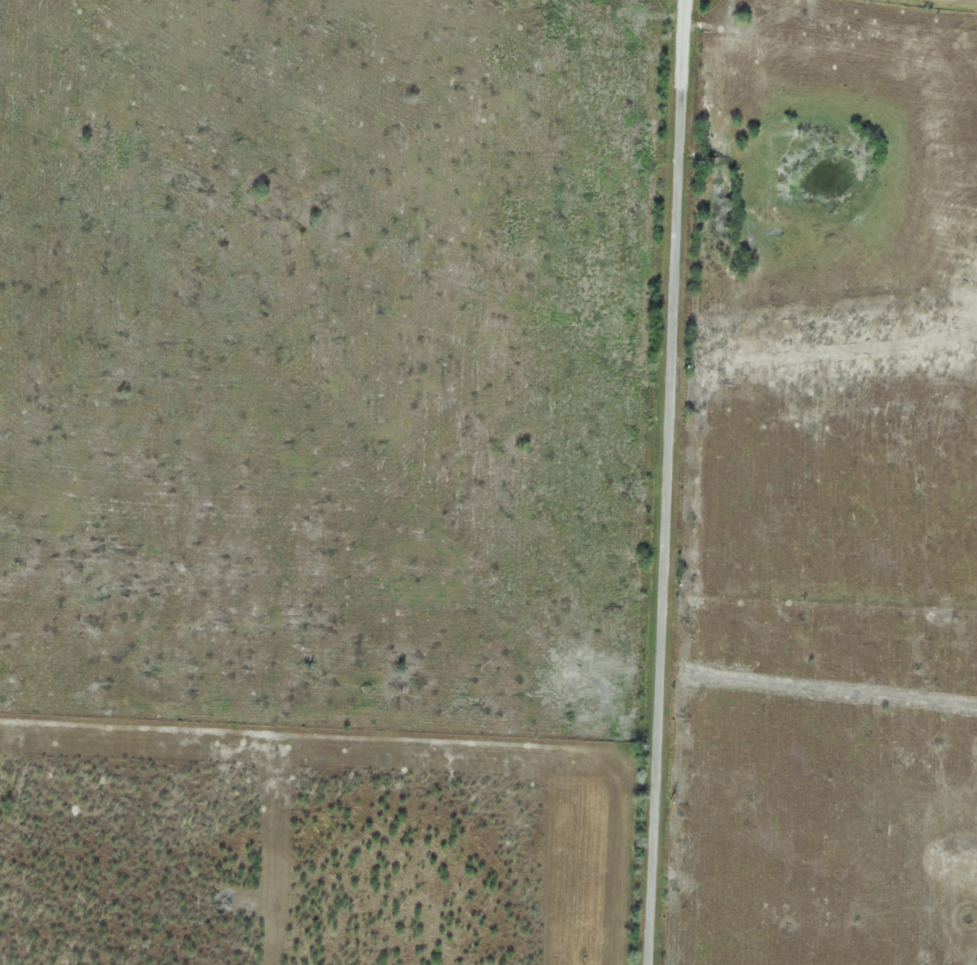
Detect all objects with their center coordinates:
road: (666, 482)

